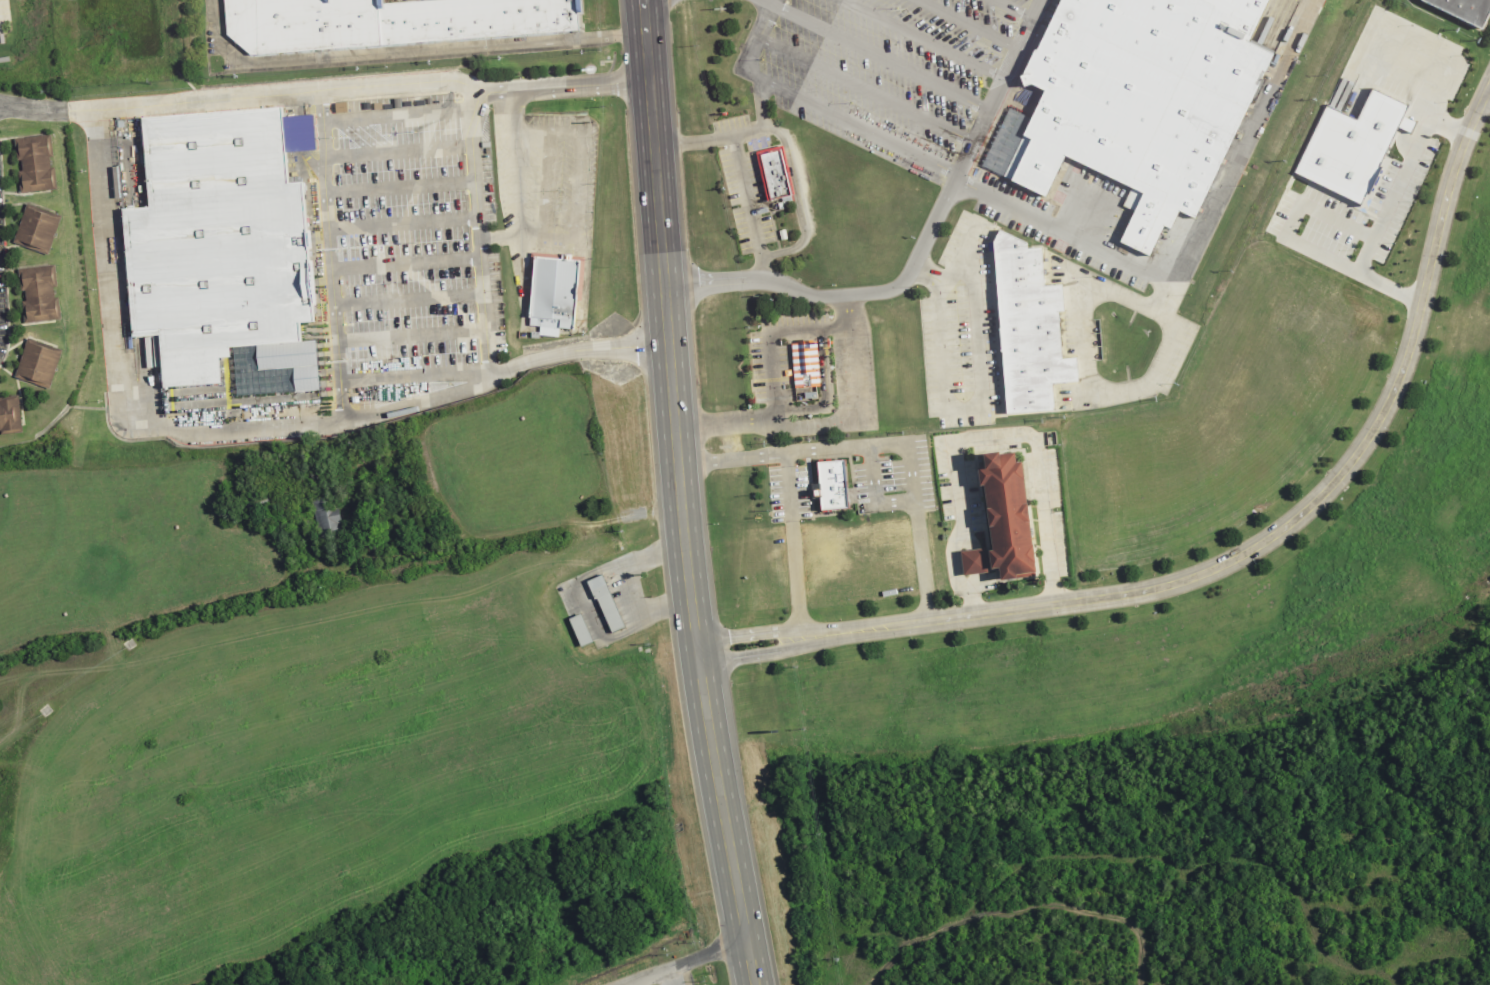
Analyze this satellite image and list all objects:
parking lot: (395, 1)
road: (765, 3)
road: (1015, 9)
building: (1465, 10)
parking lot: (5, 20)
building: (389, 23)
road: (968, 24)
road: (922, 39)
road: (404, 52)
road: (879, 58)
parking lot: (1395, 87)
road: (864, 88)
building: (1138, 97)
parking lot: (927, 104)
road: (46, 108)
road: (759, 114)
road: (396, 118)
building: (1347, 147)
road: (580, 151)
road: (398, 152)
road: (922, 160)
road: (515, 162)
building: (34, 164)
road: (743, 166)
road: (1404, 171)
building: (775, 174)
parking lot: (548, 181)
road: (546, 183)
road: (401, 189)
road: (26, 194)
parking lot: (746, 198)
road: (29, 203)
parking lot: (1309, 203)
road: (403, 223)
building: (39, 229)
road: (1202, 230)
road: (478, 232)
road: (527, 235)
building: (217, 241)
road: (1296, 243)
road: (23, 247)
road: (920, 251)
road: (6, 254)
road: (332, 258)
parking lot: (416, 259)
road: (406, 262)
road: (109, 268)
road: (943, 284)
road: (1109, 290)
building: (555, 293)
building: (37, 294)
road: (409, 301)
road: (32, 324)
building: (1029, 327)
parking lot: (964, 329)
road: (767, 333)
road: (1083, 335)
road: (411, 338)
road: (26, 340)
building: (39, 363)
building: (801, 364)
road: (14, 378)
road: (415, 380)
road: (29, 384)
road: (823, 391)
building: (364, 398)
road: (958, 409)
building: (10, 417)
road: (831, 425)
road: (983, 438)
road: (842, 450)
road: (730, 460)
parking lot: (900, 475)
road: (870, 476)
building: (829, 485)
parking lot: (789, 493)
road: (679, 494)
road: (893, 503)
building: (334, 515)
building: (1008, 515)
road: (622, 518)
road: (1277, 532)
road: (652, 557)
parking lot: (858, 561)
building: (974, 561)
parking lot: (767, 568)
building: (607, 604)
road: (663, 608)
building: (581, 632)
road: (603, 632)
road: (743, 633)
road: (746, 654)
road: (58, 702)
road: (50, 716)
road: (1023, 915)
road: (725, 945)
road: (667, 968)
road: (873, 982)

